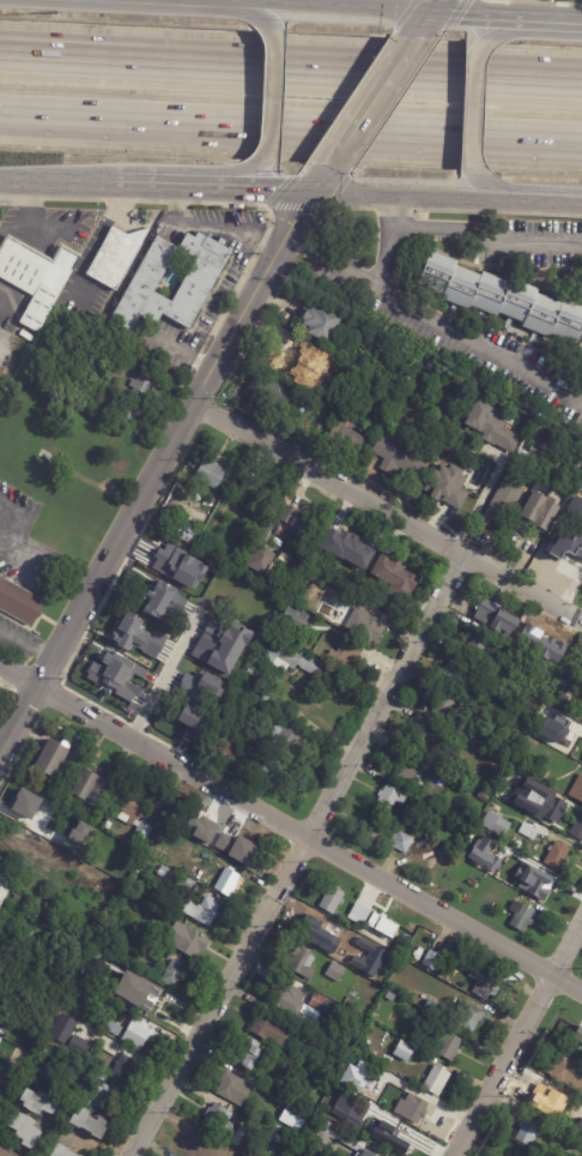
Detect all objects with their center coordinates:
road: (187, 2)
road: (353, 6)
road: (337, 11)
road: (260, 16)
traffic signals: (430, 16)
road: (429, 17)
road: (485, 18)
road: (560, 22)
road: (511, 30)
road: (12, 53)
road: (12, 54)
road: (303, 67)
road: (272, 96)
road: (370, 106)
road: (472, 107)
road: (291, 126)
road: (235, 177)
road: (56, 185)
road: (158, 188)
road: (493, 191)
road: (257, 193)
traffic signals: (311, 195)
road: (6, 198)
road: (29, 198)
road: (413, 198)
road: (73, 199)
road: (119, 200)
road: (218, 203)
road: (548, 203)
road: (182, 204)
road: (331, 206)
road: (392, 207)
road: (390, 210)
road: (496, 210)
road: (32, 223)
road: (0, 228)
road: (486, 229)
road: (234, 231)
road: (90, 246)
building: (115, 258)
road: (331, 266)
building: (36, 277)
building: (148, 281)
building: (504, 297)
road: (1, 313)
building: (322, 323)
road: (449, 331)
building: (283, 354)
building: (434, 363)
building: (275, 390)
building: (139, 395)
building: (108, 410)
building: (492, 427)
building: (558, 434)
building: (347, 438)
building: (529, 442)
building: (400, 459)
road: (159, 465)
building: (210, 471)
building: (448, 486)
building: (255, 496)
building: (575, 496)
building: (505, 501)
building: (181, 508)
road: (388, 511)
road: (24, 512)
building: (540, 513)
building: (299, 522)
building: (178, 529)
building: (190, 537)
building: (576, 538)
building: (346, 548)
road: (48, 553)
building: (263, 560)
building: (178, 566)
road: (31, 573)
building: (393, 577)
building: (159, 600)
building: (19, 604)
building: (329, 607)
building: (493, 610)
building: (295, 616)
building: (366, 625)
building: (278, 628)
building: (135, 637)
building: (219, 645)
building: (480, 645)
road: (26, 648)
building: (346, 654)
building: (295, 660)
building: (498, 660)
building: (255, 661)
building: (115, 674)
building: (253, 674)
building: (457, 674)
road: (162, 679)
building: (565, 682)
building: (247, 685)
building: (266, 699)
building: (444, 706)
building: (580, 708)
building: (190, 720)
building: (498, 731)
building: (424, 737)
building: (285, 741)
building: (224, 743)
building: (400, 749)
building: (51, 757)
building: (560, 765)
building: (260, 769)
building: (444, 771)
building: (413, 772)
building: (91, 788)
building: (54, 790)
building: (577, 790)
building: (414, 797)
building: (484, 797)
building: (392, 800)
building: (538, 800)
building: (139, 812)
building: (31, 818)
building: (497, 824)
building: (108, 825)
building: (576, 826)
road: (290, 829)
building: (80, 832)
building: (375, 832)
building: (529, 832)
building: (544, 838)
building: (234, 842)
building: (402, 842)
building: (484, 854)
building: (207, 855)
road: (298, 855)
building: (558, 855)
road: (542, 868)
building: (165, 871)
building: (531, 873)
building: (229, 880)
building: (186, 881)
building: (5, 884)
building: (473, 884)
building: (544, 889)
building: (18, 899)
building: (332, 899)
building: (467, 899)
building: (201, 909)
building: (358, 913)
building: (369, 914)
building: (522, 917)
building: (381, 925)
building: (148, 931)
building: (322, 934)
building: (25, 937)
building: (187, 939)
building: (80, 940)
building: (358, 943)
building: (431, 961)
building: (303, 962)
building: (156, 969)
building: (335, 971)
building: (174, 973)
building: (484, 983)
building: (396, 985)
building: (119, 991)
building: (91, 993)
building: (392, 995)
building: (287, 997)
building: (423, 997)
building: (104, 1000)
building: (322, 1003)
building: (156, 1005)
building: (432, 1005)
building: (471, 1014)
building: (308, 1018)
building: (114, 1026)
building: (347, 1030)
building: (139, 1034)
building: (581, 1034)
building: (289, 1035)
road: (517, 1041)
building: (450, 1043)
building: (578, 1046)
building: (72, 1049)
building: (250, 1050)
building: (406, 1050)
building: (369, 1052)
building: (338, 1060)
building: (126, 1066)
building: (566, 1072)
building: (356, 1074)
building: (383, 1078)
building: (437, 1079)
building: (235, 1088)
building: (105, 1096)
building: (279, 1098)
building: (553, 1101)
building: (44, 1102)
building: (413, 1108)
building: (295, 1116)
building: (381, 1116)
building: (219, 1119)
building: (90, 1122)
building: (531, 1127)
building: (28, 1130)
building: (339, 1136)
building: (279, 1138)
building: (399, 1138)
building: (510, 1140)
building: (196, 1145)
road: (90, 1148)
building: (224, 1148)
building: (63, 1150)
building: (7, 1151)
building: (304, 1151)
building: (515, 1152)
building: (369, 1154)
building: (83, 1155)

